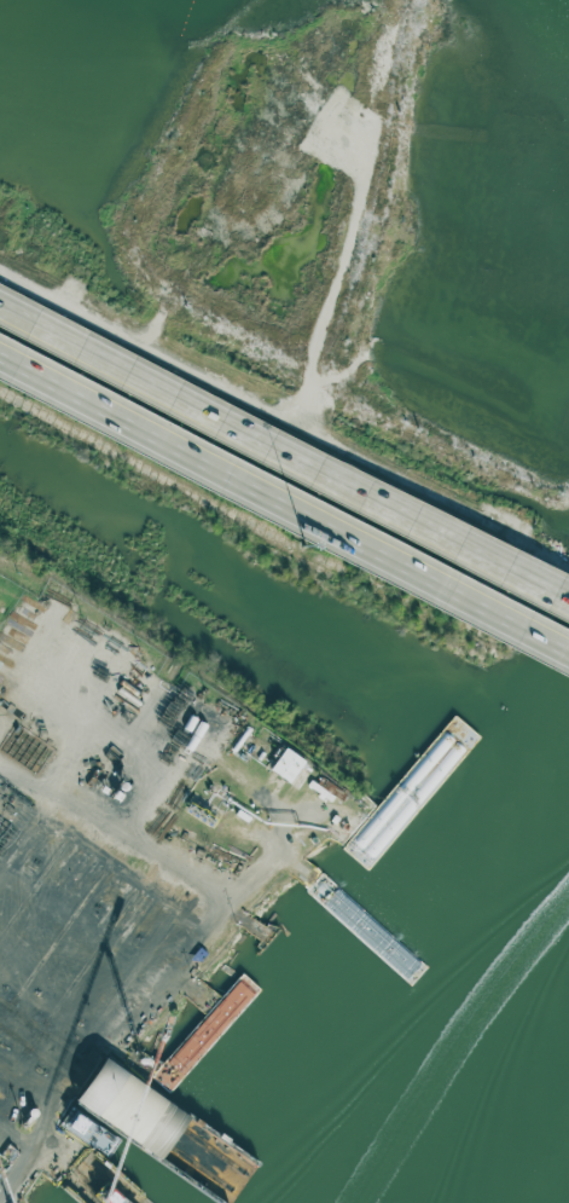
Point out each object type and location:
landfill: (372, 214)
road: (284, 457)
road: (284, 508)
building: (291, 768)
building: (137, 918)
road: (180, 948)
building: (208, 1042)
road: (39, 1058)
road: (85, 1070)
building: (4, 1076)
river: (481, 1088)
building: (132, 1109)

